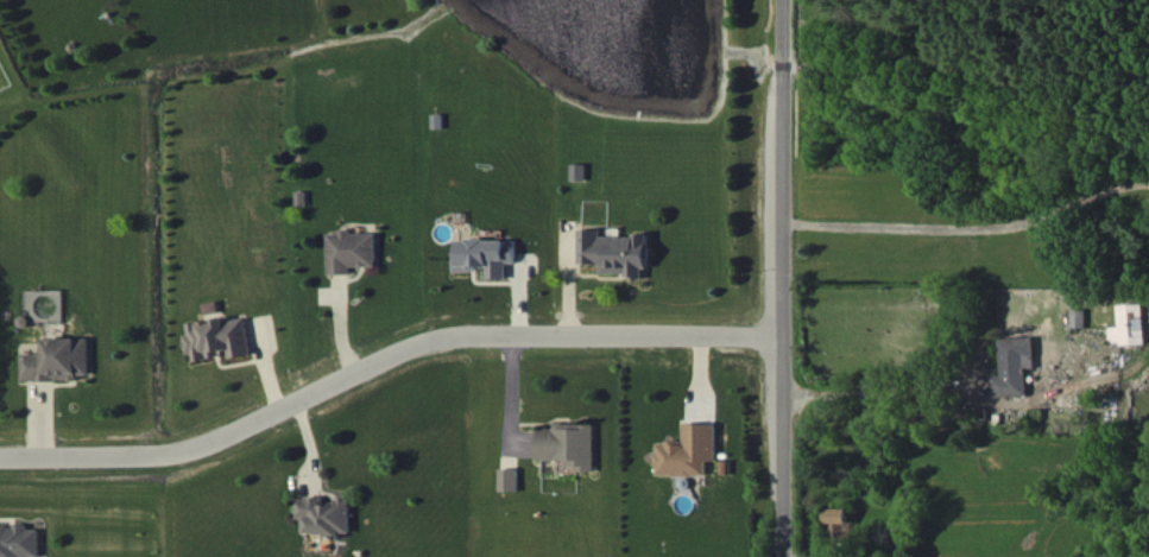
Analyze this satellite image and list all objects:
building: (579, 171)
road: (964, 227)
building: (351, 251)
building: (615, 252)
building: (487, 255)
road: (771, 278)
building: (1079, 317)
building: (1130, 324)
building: (219, 337)
building: (59, 359)
road: (379, 360)
building: (1015, 366)
building: (569, 444)
building: (689, 450)
building: (510, 479)
building: (324, 514)
building: (838, 521)
building: (19, 540)

